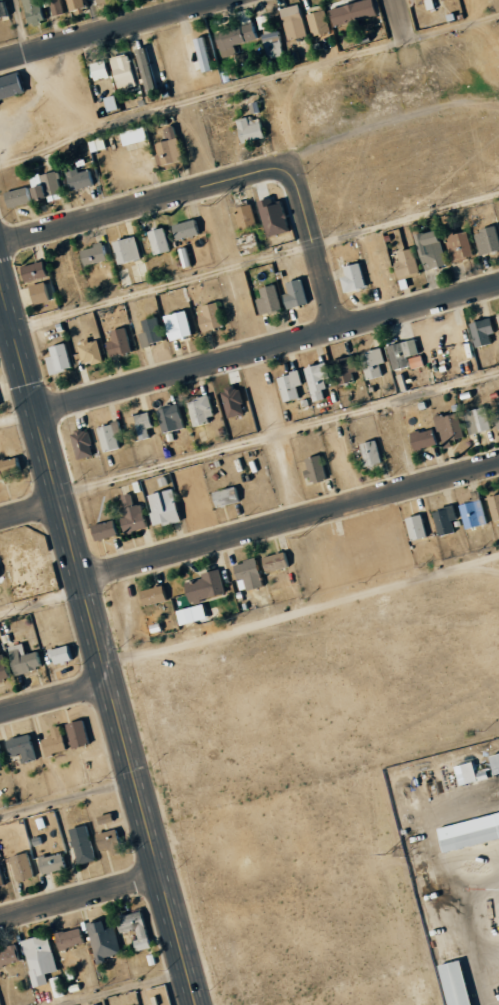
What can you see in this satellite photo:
building: (124, 0)
building: (105, 1)
building: (431, 3)
building: (82, 5)
building: (59, 7)
building: (4, 10)
building: (35, 11)
building: (349, 11)
building: (291, 22)
building: (316, 22)
road: (404, 22)
building: (265, 23)
road: (109, 29)
building: (232, 38)
building: (271, 45)
building: (201, 54)
building: (96, 70)
building: (151, 70)
building: (120, 71)
building: (9, 86)
building: (108, 102)
building: (247, 129)
building: (130, 135)
building: (166, 147)
building: (76, 179)
building: (47, 185)
building: (16, 197)
power tower: (212, 204)
road: (138, 208)
building: (271, 216)
building: (243, 217)
building: (183, 229)
building: (157, 240)
building: (485, 240)
road: (315, 243)
building: (457, 245)
building: (124, 249)
building: (428, 249)
building: (91, 255)
building: (403, 264)
building: (32, 271)
building: (351, 277)
road: (164, 286)
building: (293, 294)
building: (266, 299)
building: (209, 316)
building: (497, 321)
road: (6, 325)
building: (174, 325)
building: (102, 328)
building: (152, 329)
building: (479, 332)
building: (116, 342)
road: (267, 348)
building: (88, 352)
building: (402, 355)
building: (56, 358)
building: (370, 364)
building: (345, 369)
building: (314, 380)
building: (287, 385)
building: (231, 402)
building: (198, 410)
road: (18, 416)
building: (496, 416)
building: (168, 417)
building: (475, 420)
building: (137, 426)
building: (446, 428)
road: (278, 434)
building: (107, 436)
building: (420, 439)
building: (84, 443)
building: (368, 453)
building: (10, 467)
building: (319, 467)
building: (223, 496)
building: (195, 503)
building: (493, 506)
building: (161, 507)
road: (30, 511)
building: (470, 514)
building: (131, 517)
building: (440, 521)
road: (290, 522)
building: (425, 524)
building: (412, 527)
building: (102, 530)
building: (385, 535)
power tower: (302, 536)
building: (272, 562)
building: (0, 575)
building: (245, 575)
building: (203, 586)
building: (173, 590)
building: (150, 595)
road: (42, 603)
road: (302, 612)
building: (188, 614)
road: (98, 641)
building: (64, 655)
building: (27, 659)
building: (4, 666)
road: (54, 699)
building: (80, 733)
building: (57, 741)
building: (23, 747)
building: (2, 757)
building: (493, 763)
building: (467, 774)
road: (68, 796)
building: (108, 818)
building: (467, 831)
building: (111, 840)
building: (83, 844)
power tower: (388, 854)
building: (53, 862)
building: (24, 866)
building: (2, 877)
road: (80, 895)
building: (137, 928)
building: (71, 938)
building: (105, 939)
building: (9, 955)
building: (41, 958)
building: (451, 983)
building: (58, 987)
road: (124, 988)

